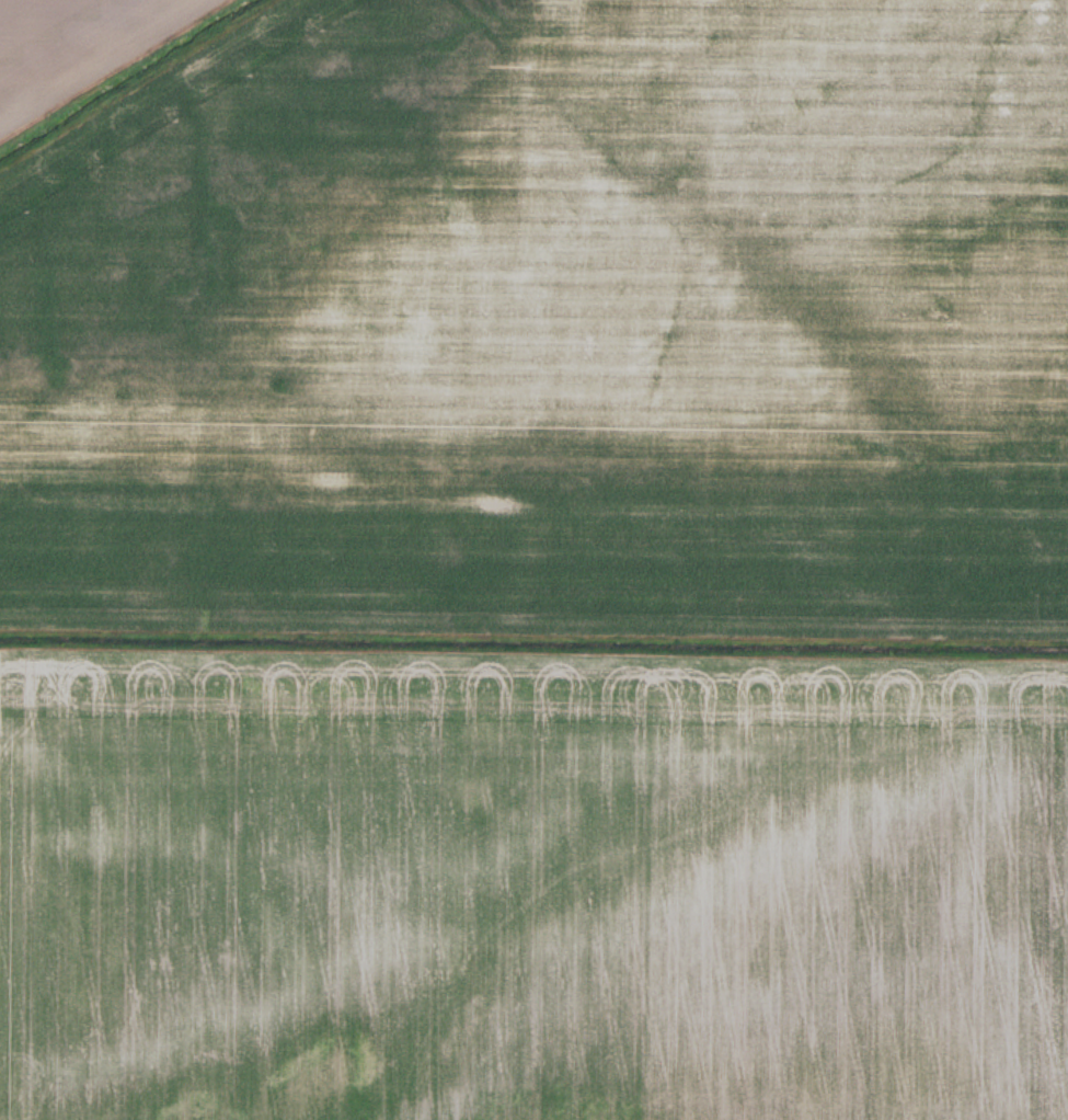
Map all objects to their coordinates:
road: (340, 443)

